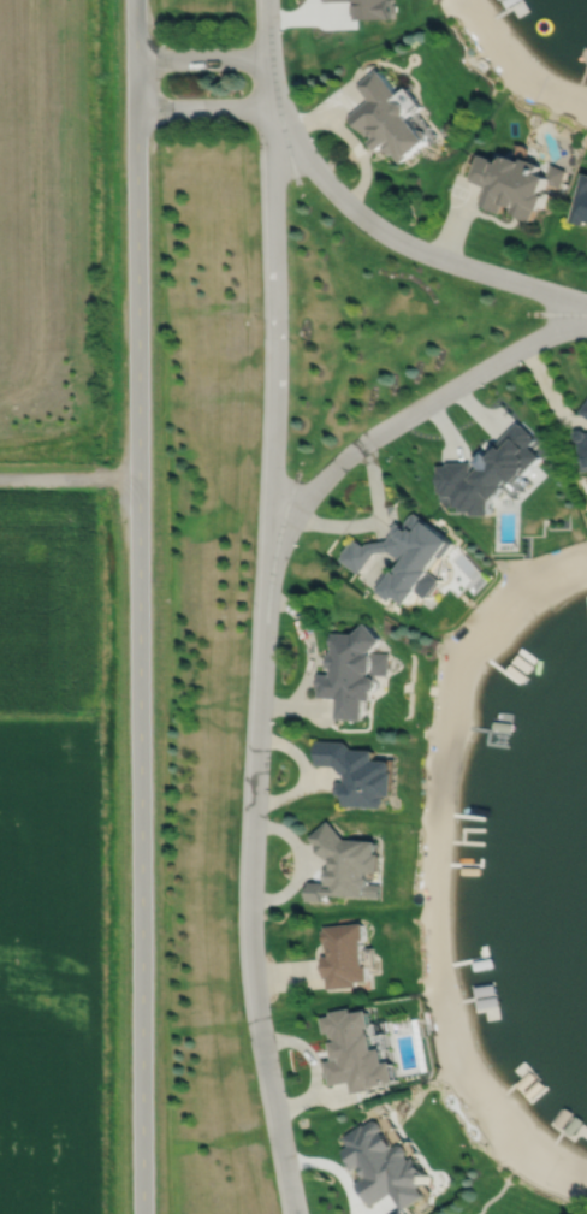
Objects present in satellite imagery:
building: (373, 8)
road: (134, 29)
road: (267, 29)
road: (201, 58)
road: (203, 109)
building: (389, 117)
building: (515, 184)
building: (581, 203)
road: (405, 242)
road: (274, 315)
building: (585, 410)
road: (401, 419)
building: (582, 446)
building: (490, 474)
road: (69, 476)
building: (401, 555)
road: (138, 635)
building: (352, 668)
building: (357, 771)
crop: (48, 854)
building: (348, 859)
road: (249, 895)
building: (344, 954)
building: (356, 1053)
building: (385, 1166)
road: (333, 1168)

